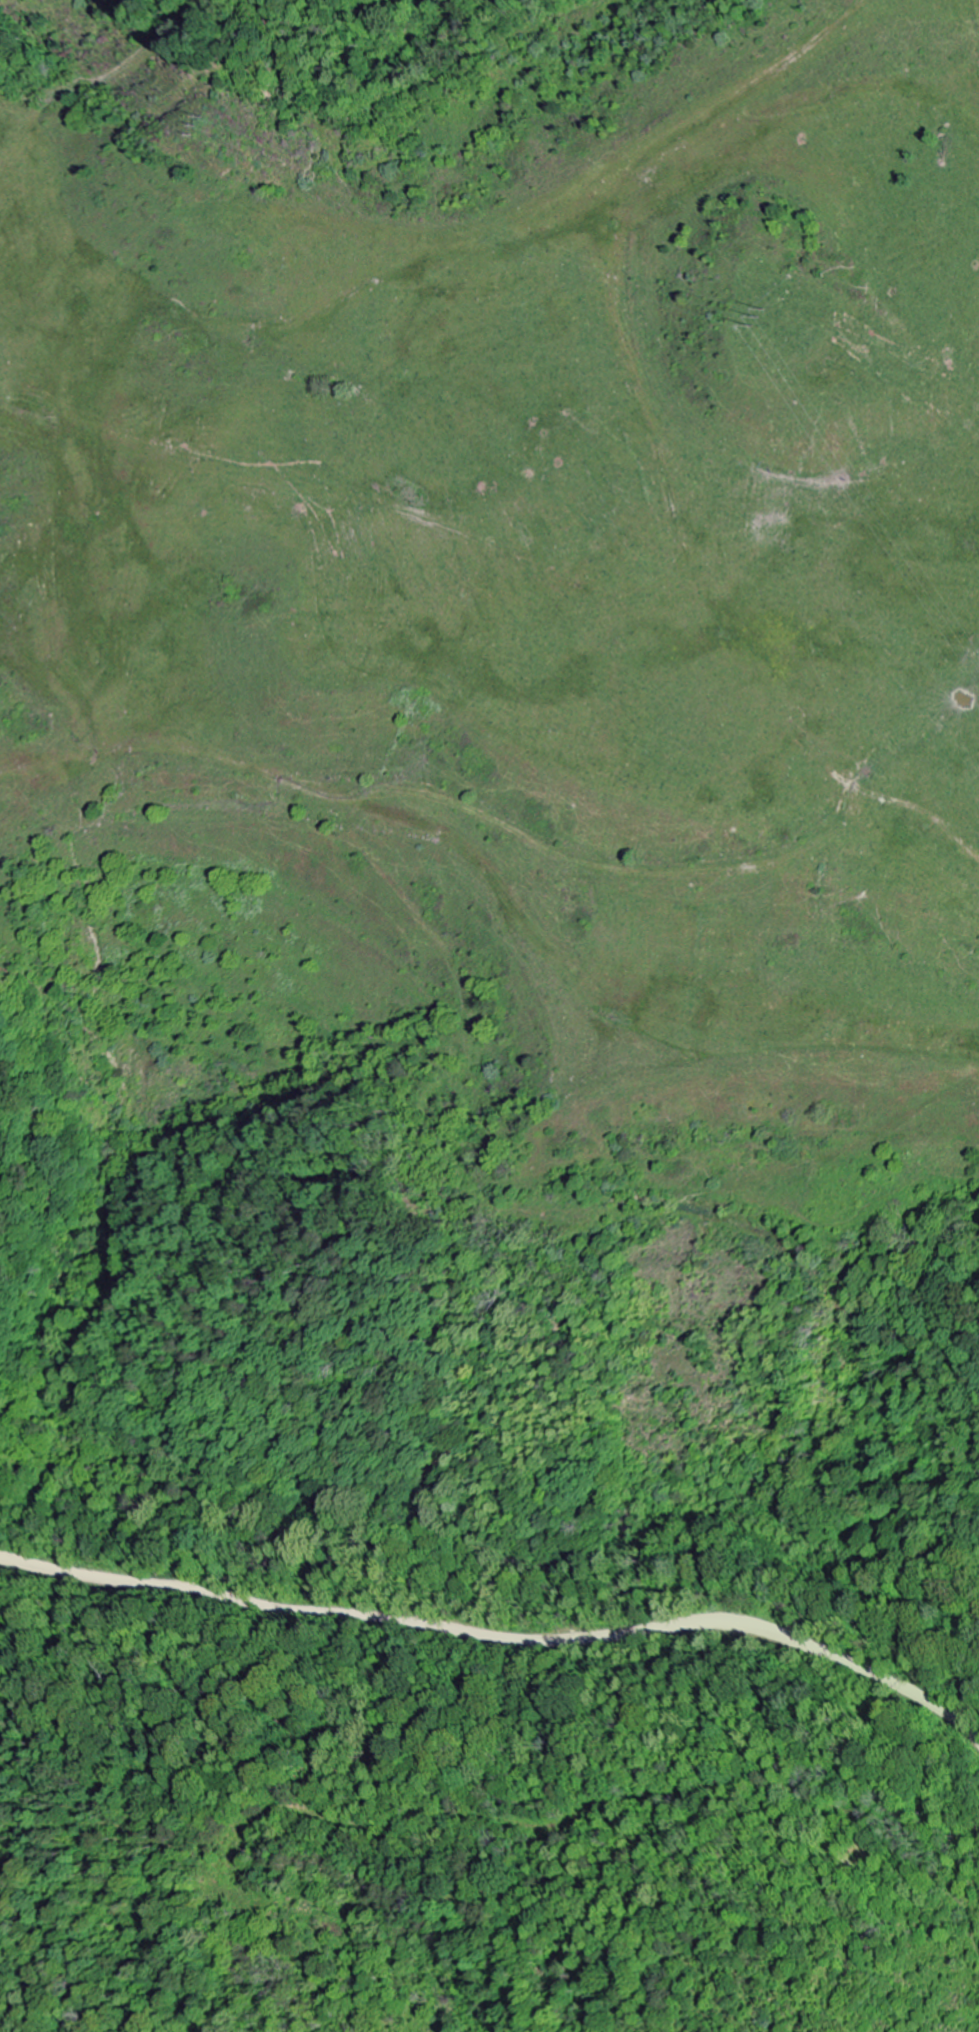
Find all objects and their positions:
road: (503, 1638)

